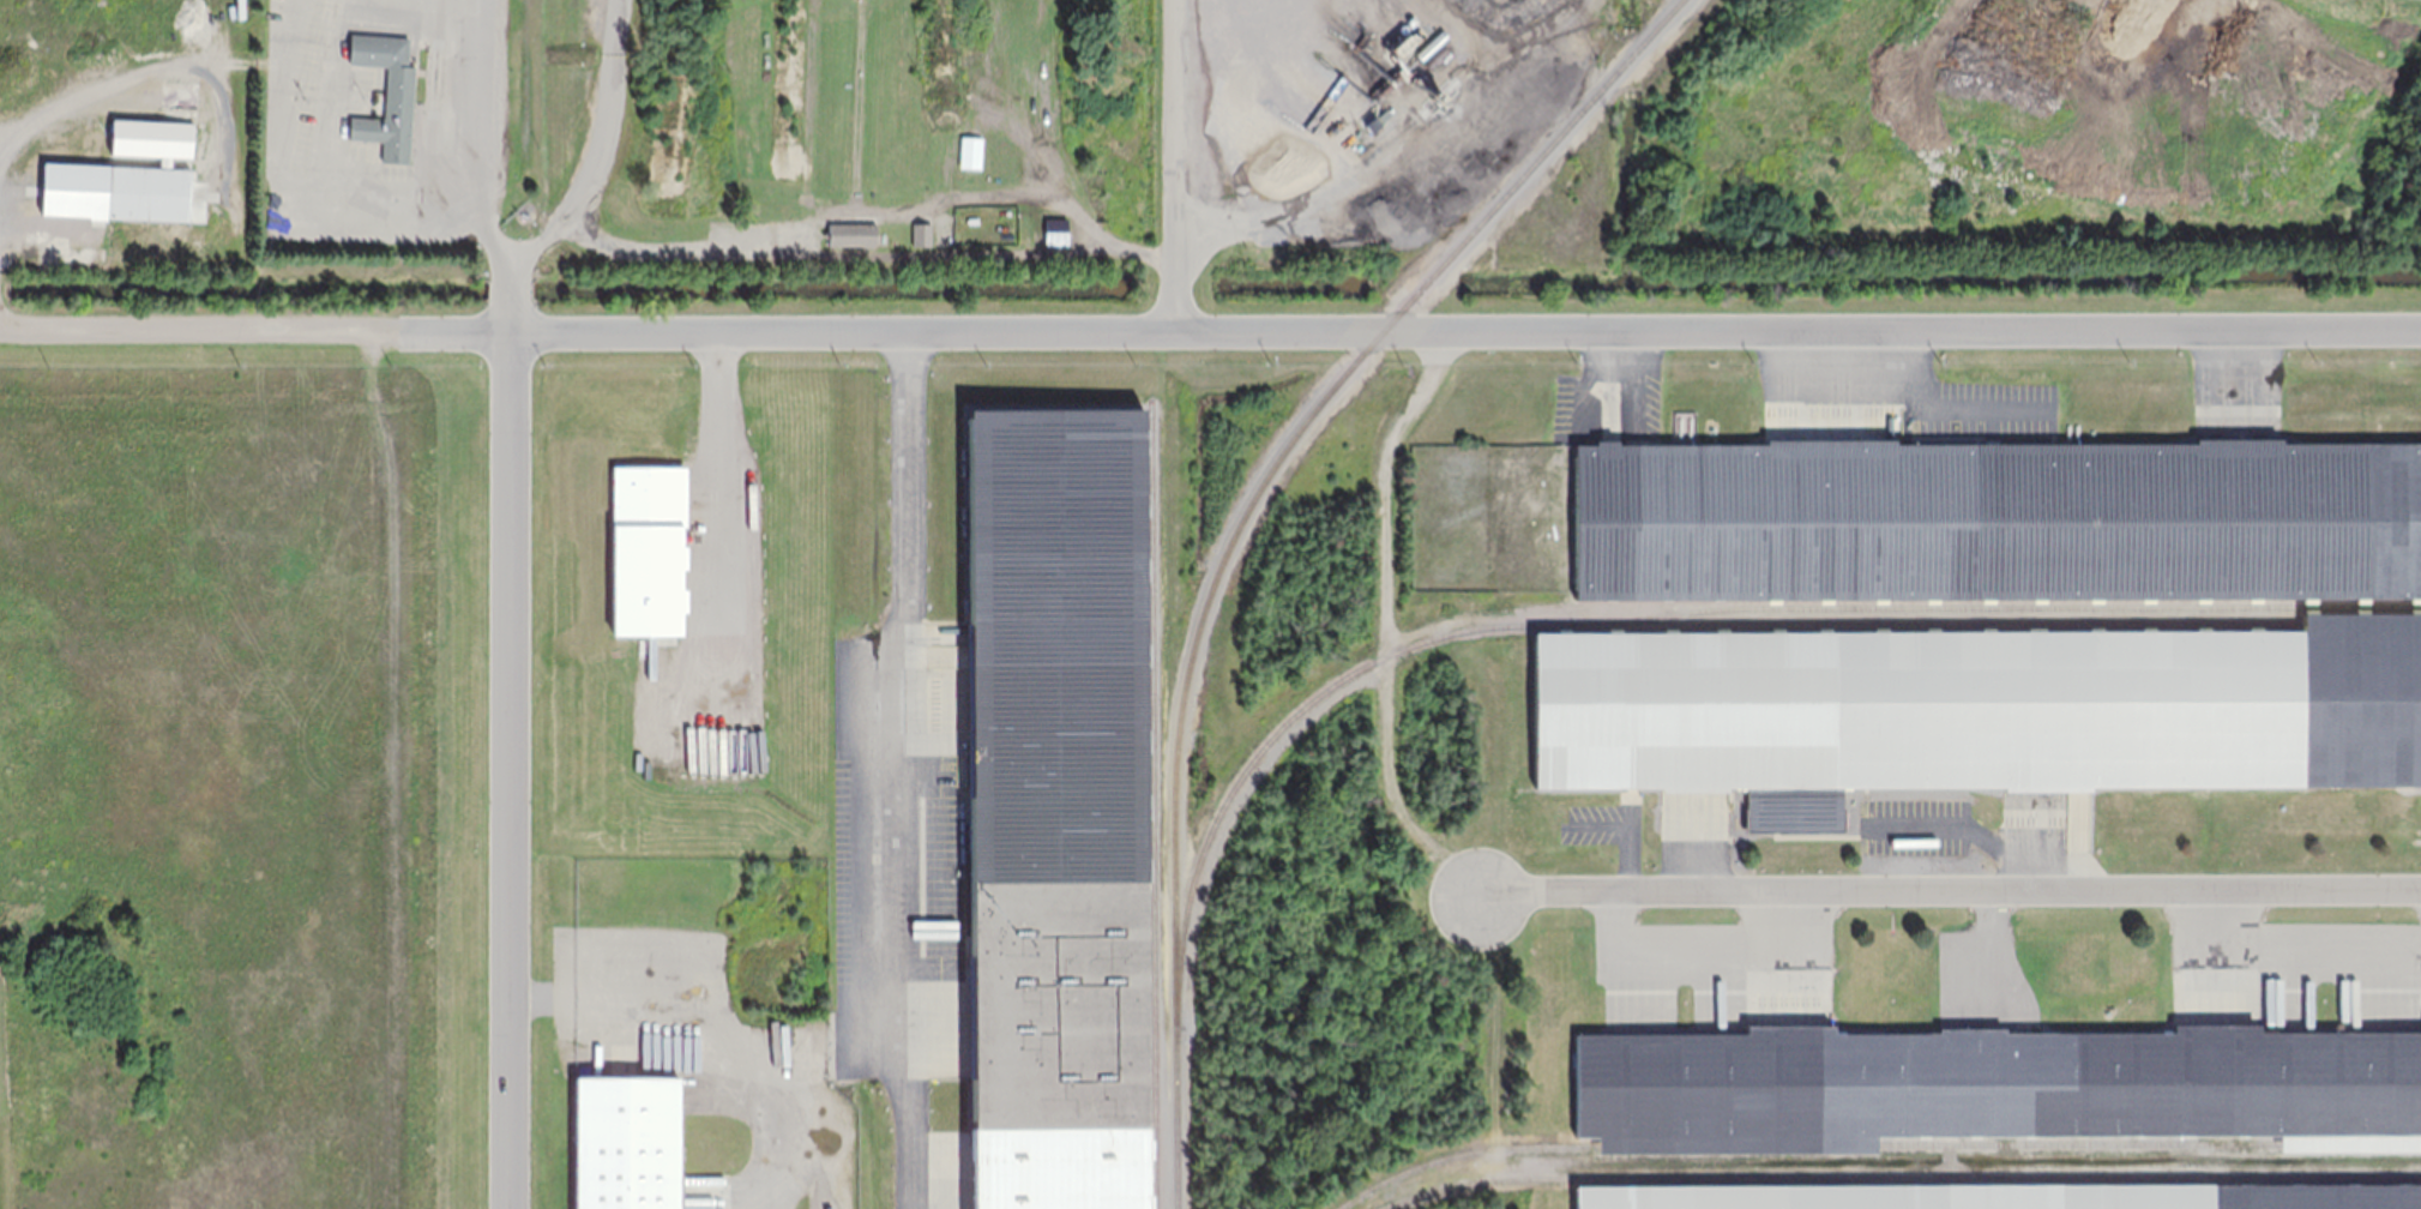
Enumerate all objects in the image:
building: (728, 17)
building: (1431, 44)
building: (1399, 49)
building: (1435, 55)
building: (391, 116)
building: (1373, 124)
building: (1341, 152)
crop: (126, 156)
landfill: (377, 156)
road: (1174, 167)
road: (474, 170)
building: (147, 192)
building: (7, 201)
building: (1055, 230)
building: (853, 234)
building: (922, 234)
road: (1210, 332)
building: (1997, 519)
railway: (1236, 527)
building: (648, 548)
railway: (1995, 606)
road: (1385, 621)
railway: (1675, 622)
building: (1976, 710)
building: (1058, 766)
road: (390, 769)
road: (508, 770)
railway: (1151, 802)
road: (1950, 890)
building: (1986, 1085)
building: (626, 1142)
railway: (1869, 1143)
railway: (1902, 1177)
building: (2006, 1196)

